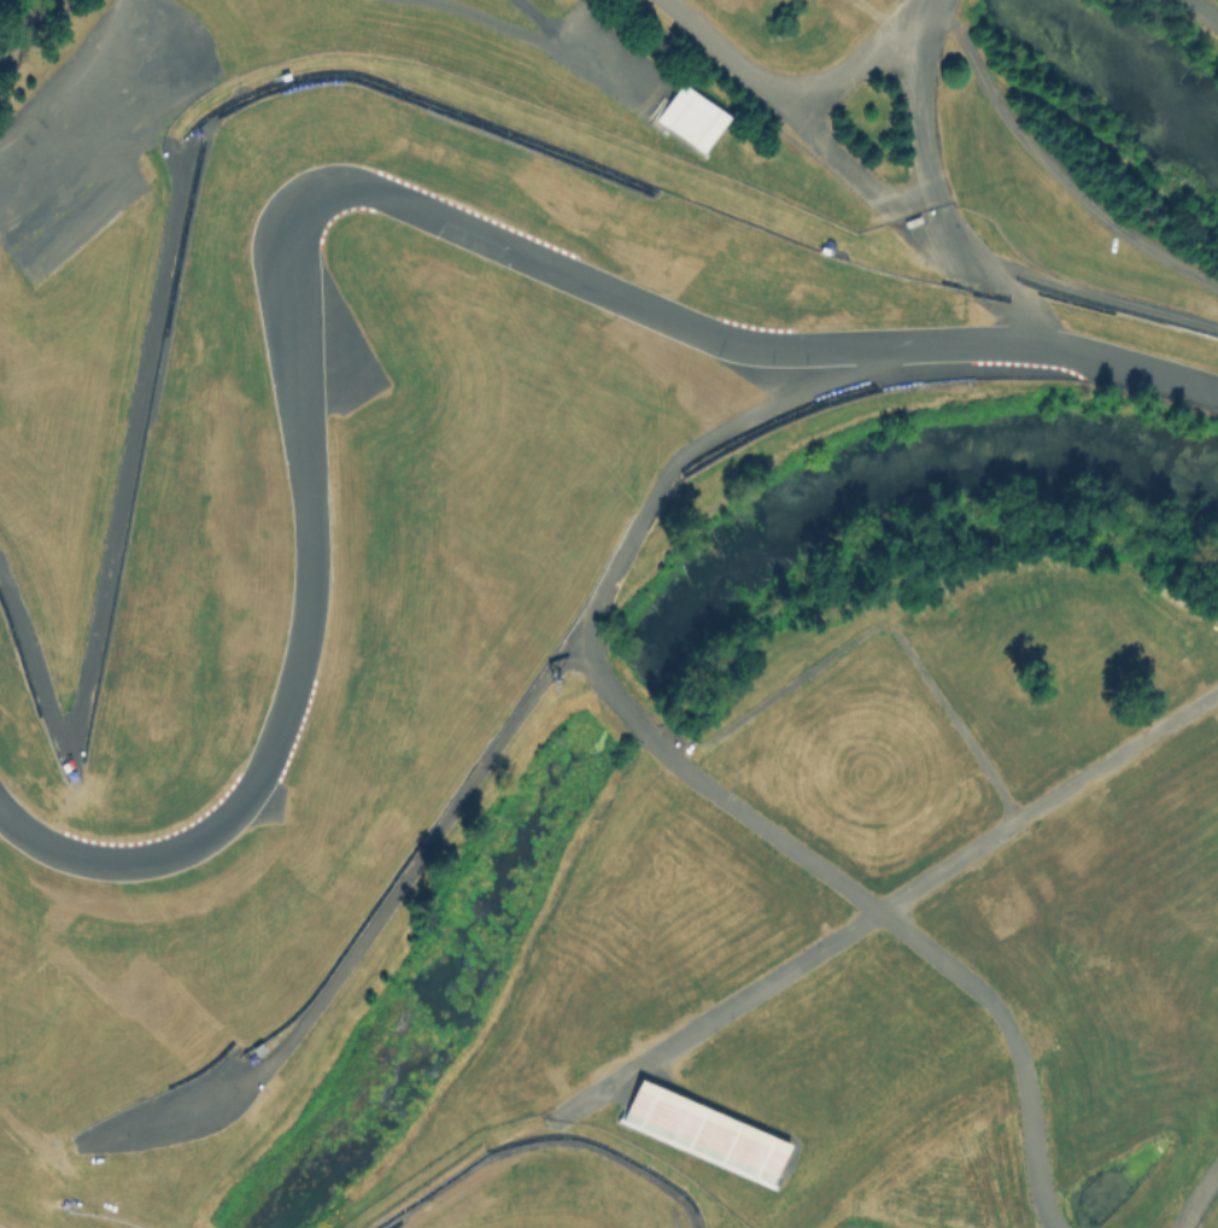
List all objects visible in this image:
road: (1202, 11)
park: (1201, 12)
road: (29, 29)
road: (730, 58)
road: (856, 58)
building: (691, 116)
road: (924, 130)
road: (1052, 169)
raceway: (349, 195)
road: (927, 235)
stadium: (608, 614)
road: (874, 627)
road: (685, 770)
road: (886, 901)
building: (675, 1119)

